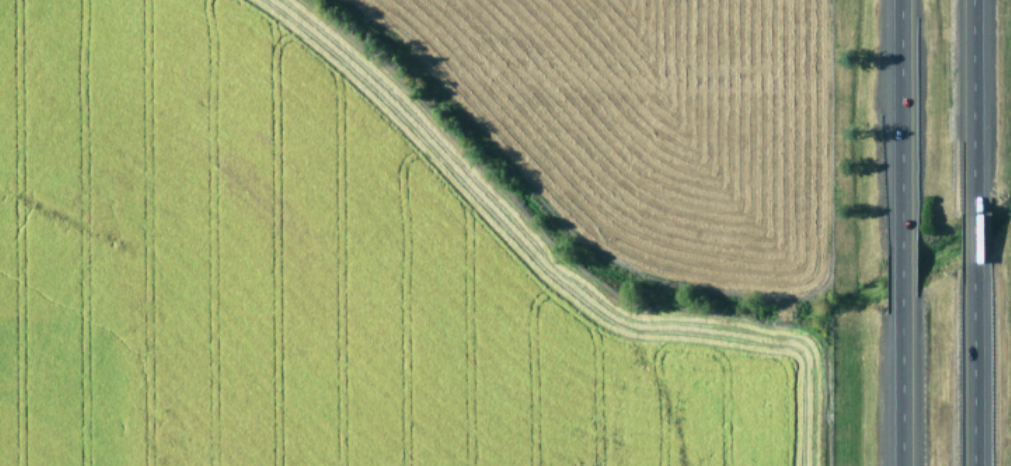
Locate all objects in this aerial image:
road: (969, 99)
road: (899, 104)
crop: (421, 233)
road: (972, 244)
road: (900, 264)
road: (974, 377)
road: (900, 393)

